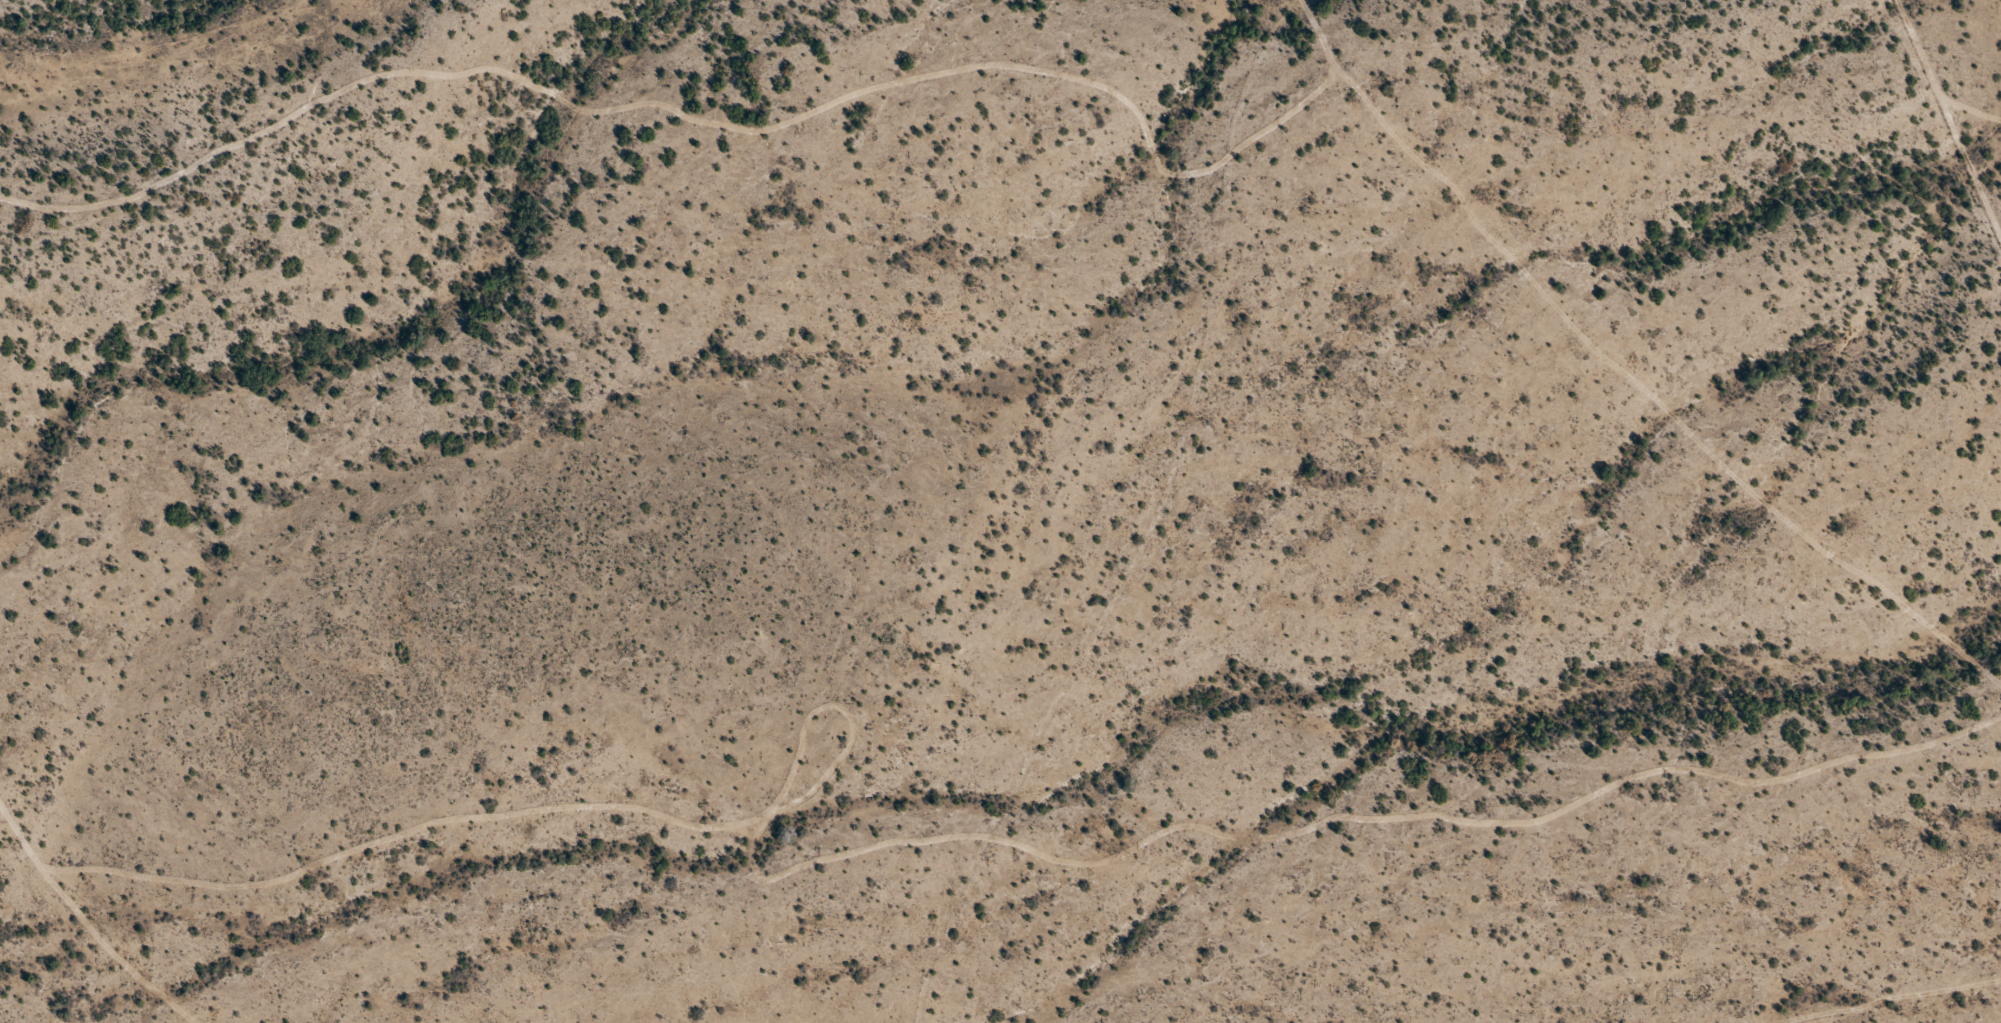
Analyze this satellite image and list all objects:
road: (86, 918)
road: (1926, 1009)

